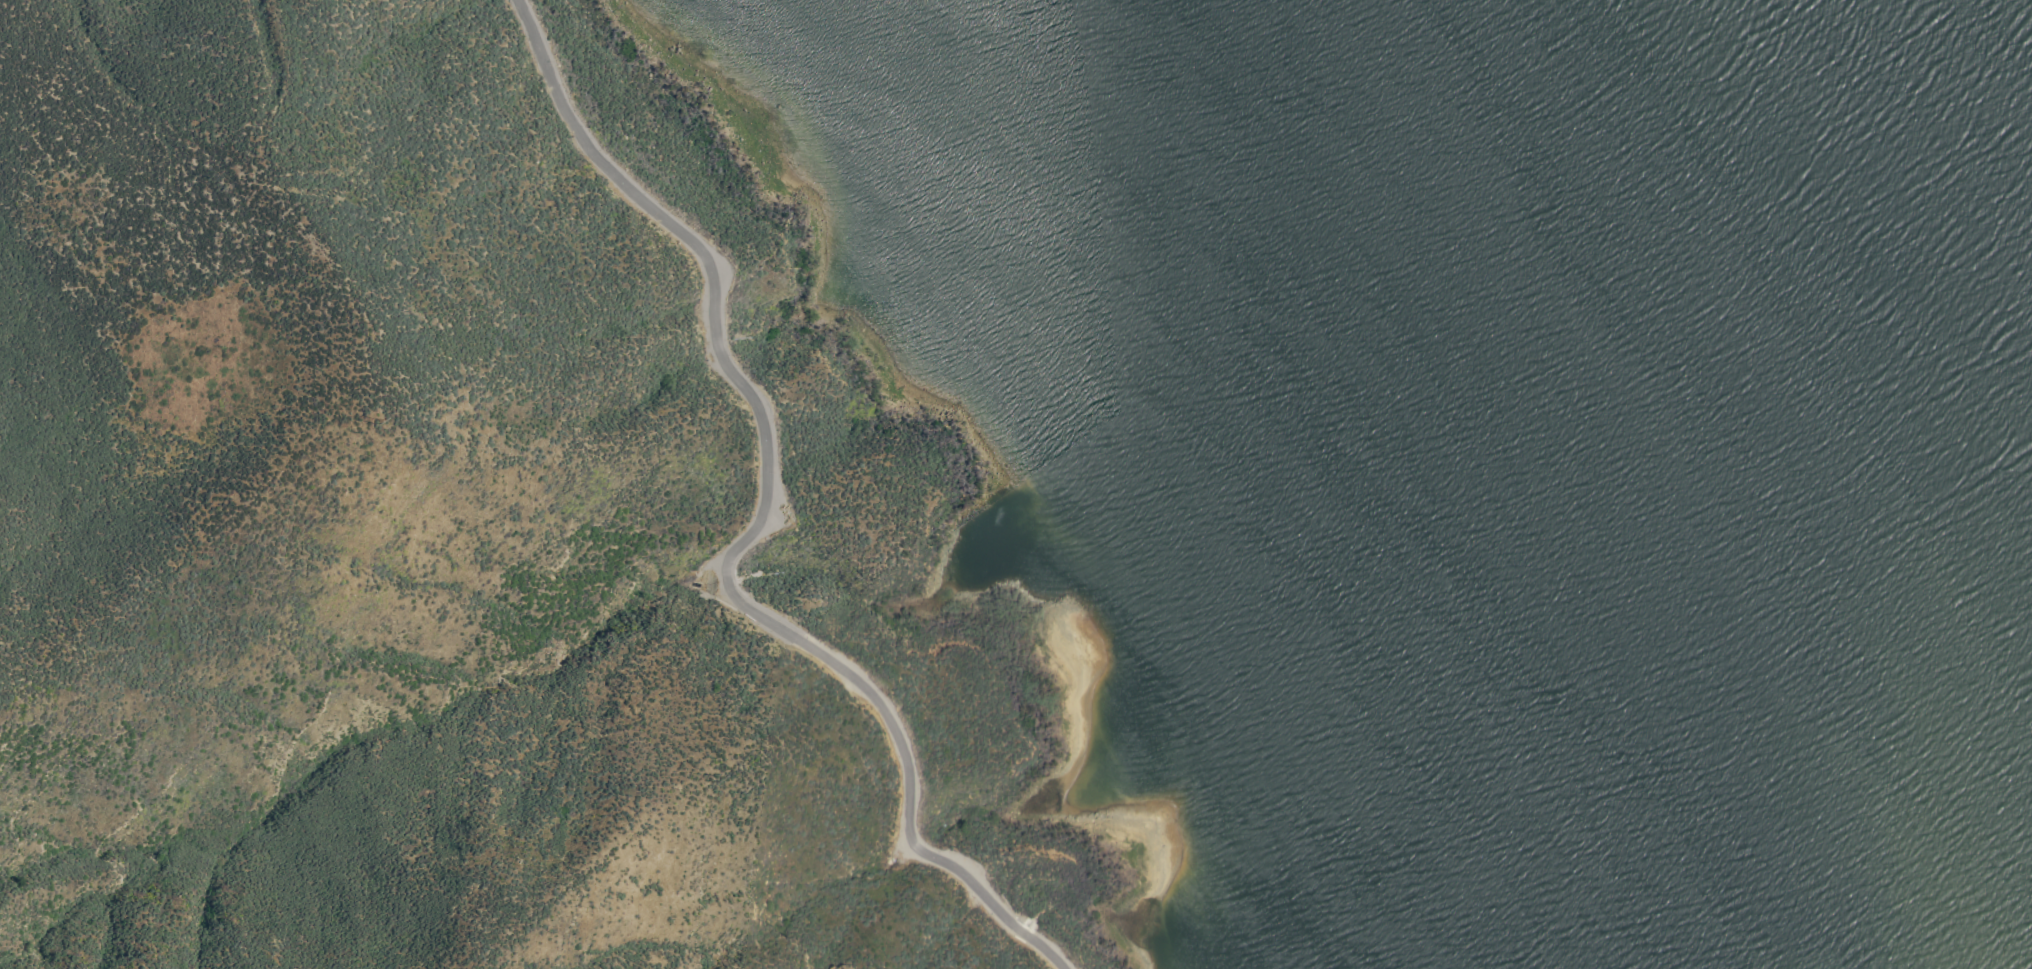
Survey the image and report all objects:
road: (767, 531)

